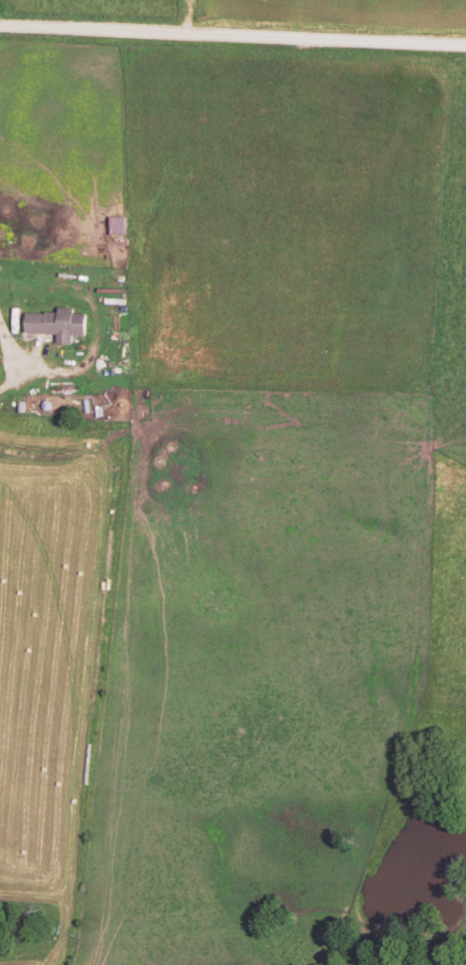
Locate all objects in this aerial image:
road: (233, 36)
building: (61, 321)
road: (19, 368)

